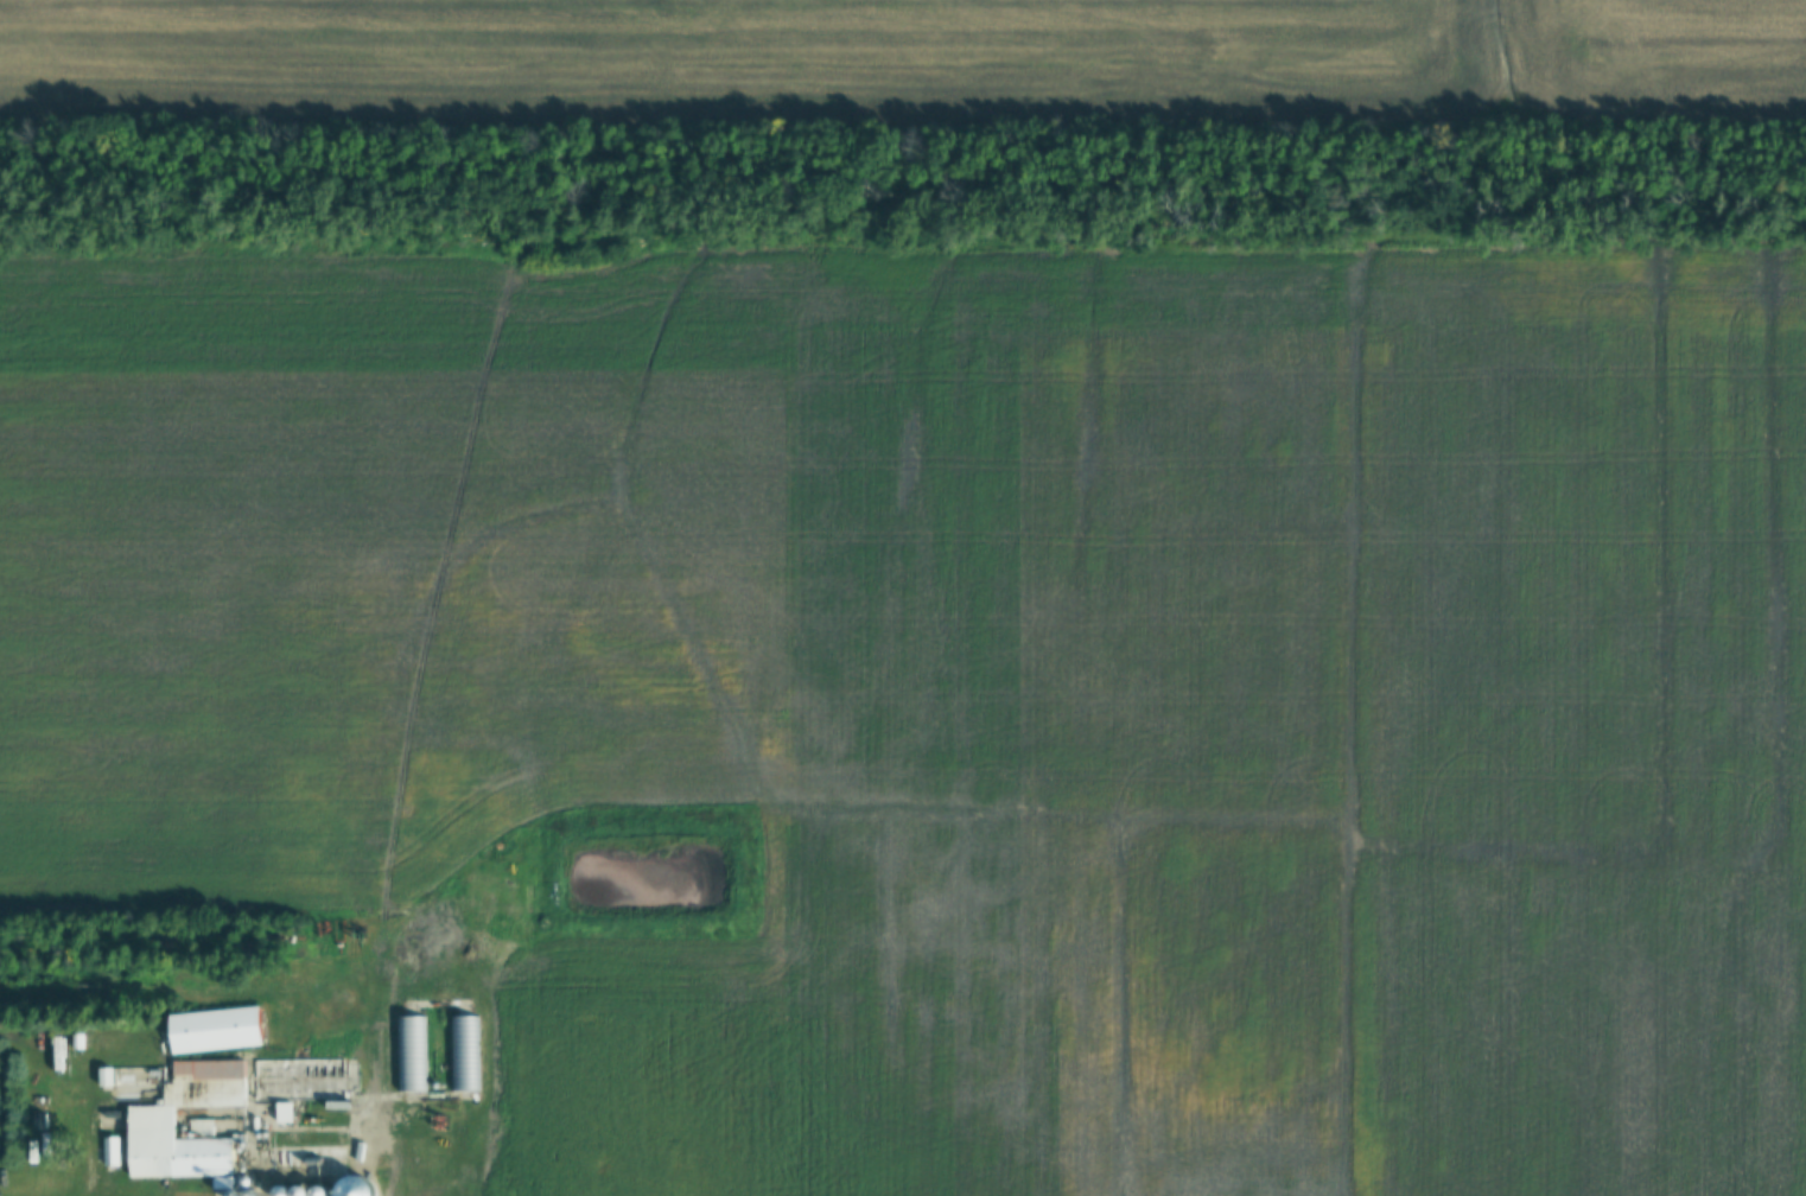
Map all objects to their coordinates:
building: (211, 1030)
building: (409, 1052)
building: (297, 1080)
building: (171, 1117)
building: (351, 1140)
building: (306, 1162)

